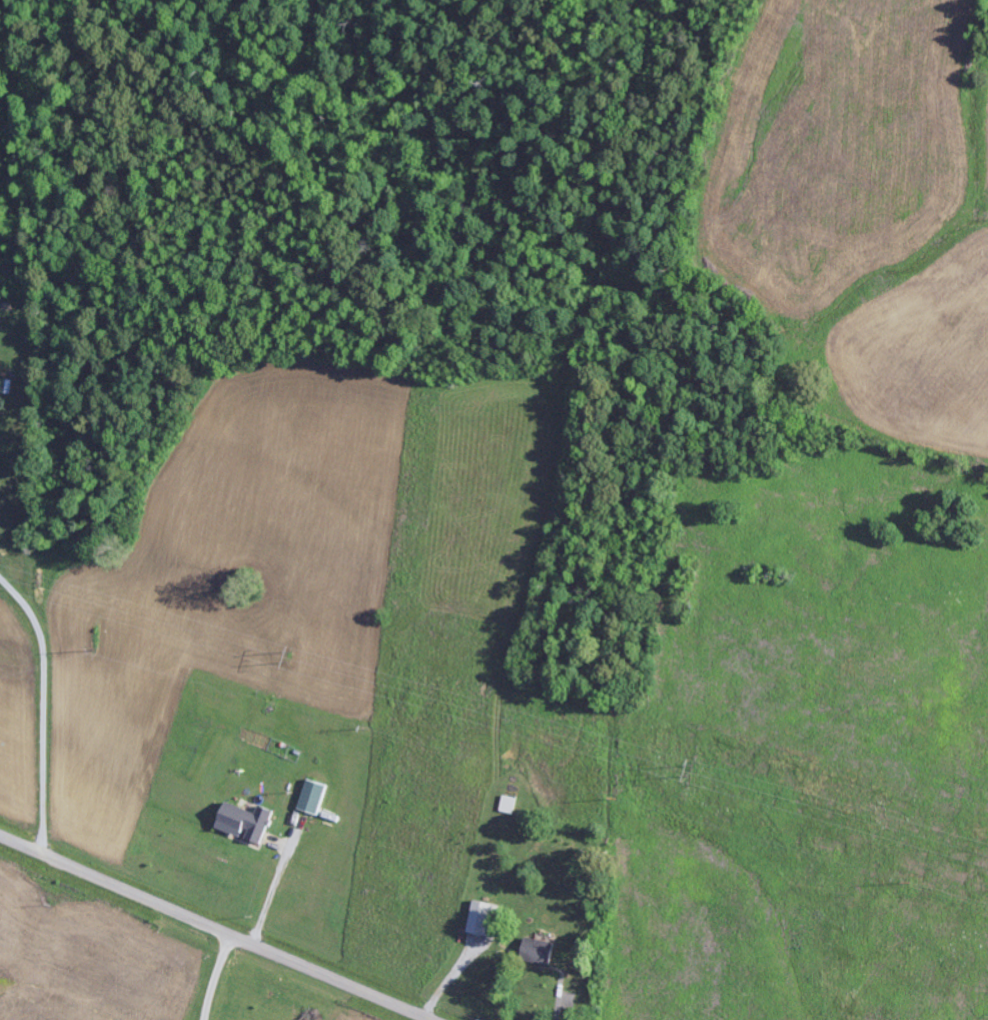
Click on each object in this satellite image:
power tower: (295, 657)
road: (46, 707)
power tower: (695, 770)
building: (315, 798)
building: (510, 805)
building: (248, 822)
building: (487, 918)
road: (215, 928)
building: (540, 950)

